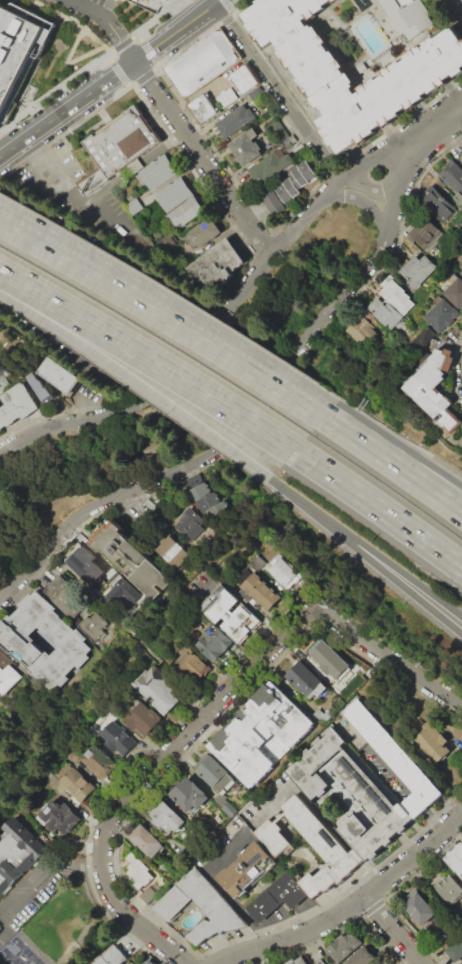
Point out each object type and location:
road: (183, 7)
building: (407, 17)
road: (98, 22)
building: (14, 49)
building: (201, 62)
road: (110, 77)
building: (243, 79)
building: (410, 81)
road: (280, 92)
building: (227, 97)
building: (203, 107)
building: (235, 120)
building: (279, 130)
road: (432, 131)
building: (292, 139)
building: (118, 145)
building: (246, 147)
building: (461, 158)
road: (202, 160)
building: (272, 164)
building: (130, 169)
building: (158, 172)
building: (453, 177)
building: (296, 181)
road: (369, 187)
parking lot: (71, 189)
building: (173, 194)
road: (71, 197)
building: (272, 200)
road: (367, 202)
building: (138, 204)
building: (436, 204)
building: (186, 212)
building: (203, 232)
building: (425, 232)
building: (165, 242)
building: (215, 268)
building: (417, 270)
building: (461, 273)
parking lot: (81, 291)
building: (454, 292)
building: (397, 296)
building: (384, 312)
building: (442, 315)
road: (163, 318)
road: (213, 323)
building: (360, 327)
building: (422, 338)
road: (151, 358)
building: (58, 375)
road: (136, 381)
road: (222, 381)
building: (1, 383)
building: (38, 388)
building: (436, 389)
park: (184, 392)
building: (16, 404)
road: (87, 404)
road: (249, 419)
road: (392, 453)
road: (393, 463)
building: (210, 502)
road: (9, 509)
road: (381, 509)
road: (327, 521)
building: (188, 524)
road: (33, 534)
building: (166, 548)
building: (178, 558)
building: (132, 561)
building: (258, 561)
building: (83, 564)
building: (286, 571)
building: (246, 574)
road: (423, 588)
building: (119, 590)
building: (262, 591)
road: (422, 598)
building: (76, 608)
building: (230, 611)
building: (67, 641)
building: (215, 643)
road: (387, 656)
building: (330, 660)
building: (197, 670)
building: (6, 677)
building: (307, 680)
building: (159, 690)
building: (322, 715)
building: (0, 717)
building: (144, 719)
building: (261, 734)
building: (120, 737)
building: (434, 743)
building: (99, 761)
building: (215, 775)
road: (145, 776)
building: (362, 782)
building: (76, 786)
road: (403, 788)
building: (188, 795)
building: (229, 809)
road: (317, 810)
building: (56, 817)
building: (165, 819)
building: (147, 842)
building: (329, 845)
building: (16, 851)
building: (456, 859)
road: (207, 861)
building: (247, 868)
building: (138, 870)
road: (39, 879)
building: (446, 885)
parking lot: (32, 894)
building: (277, 897)
road: (353, 905)
road: (235, 906)
building: (418, 906)
building: (200, 909)
park: (58, 929)
road: (393, 930)
road: (88, 944)
building: (344, 945)
building: (455, 949)
park: (23, 956)
building: (112, 956)
building: (363, 956)
road: (410, 960)
building: (150, 961)
building: (299, 961)

